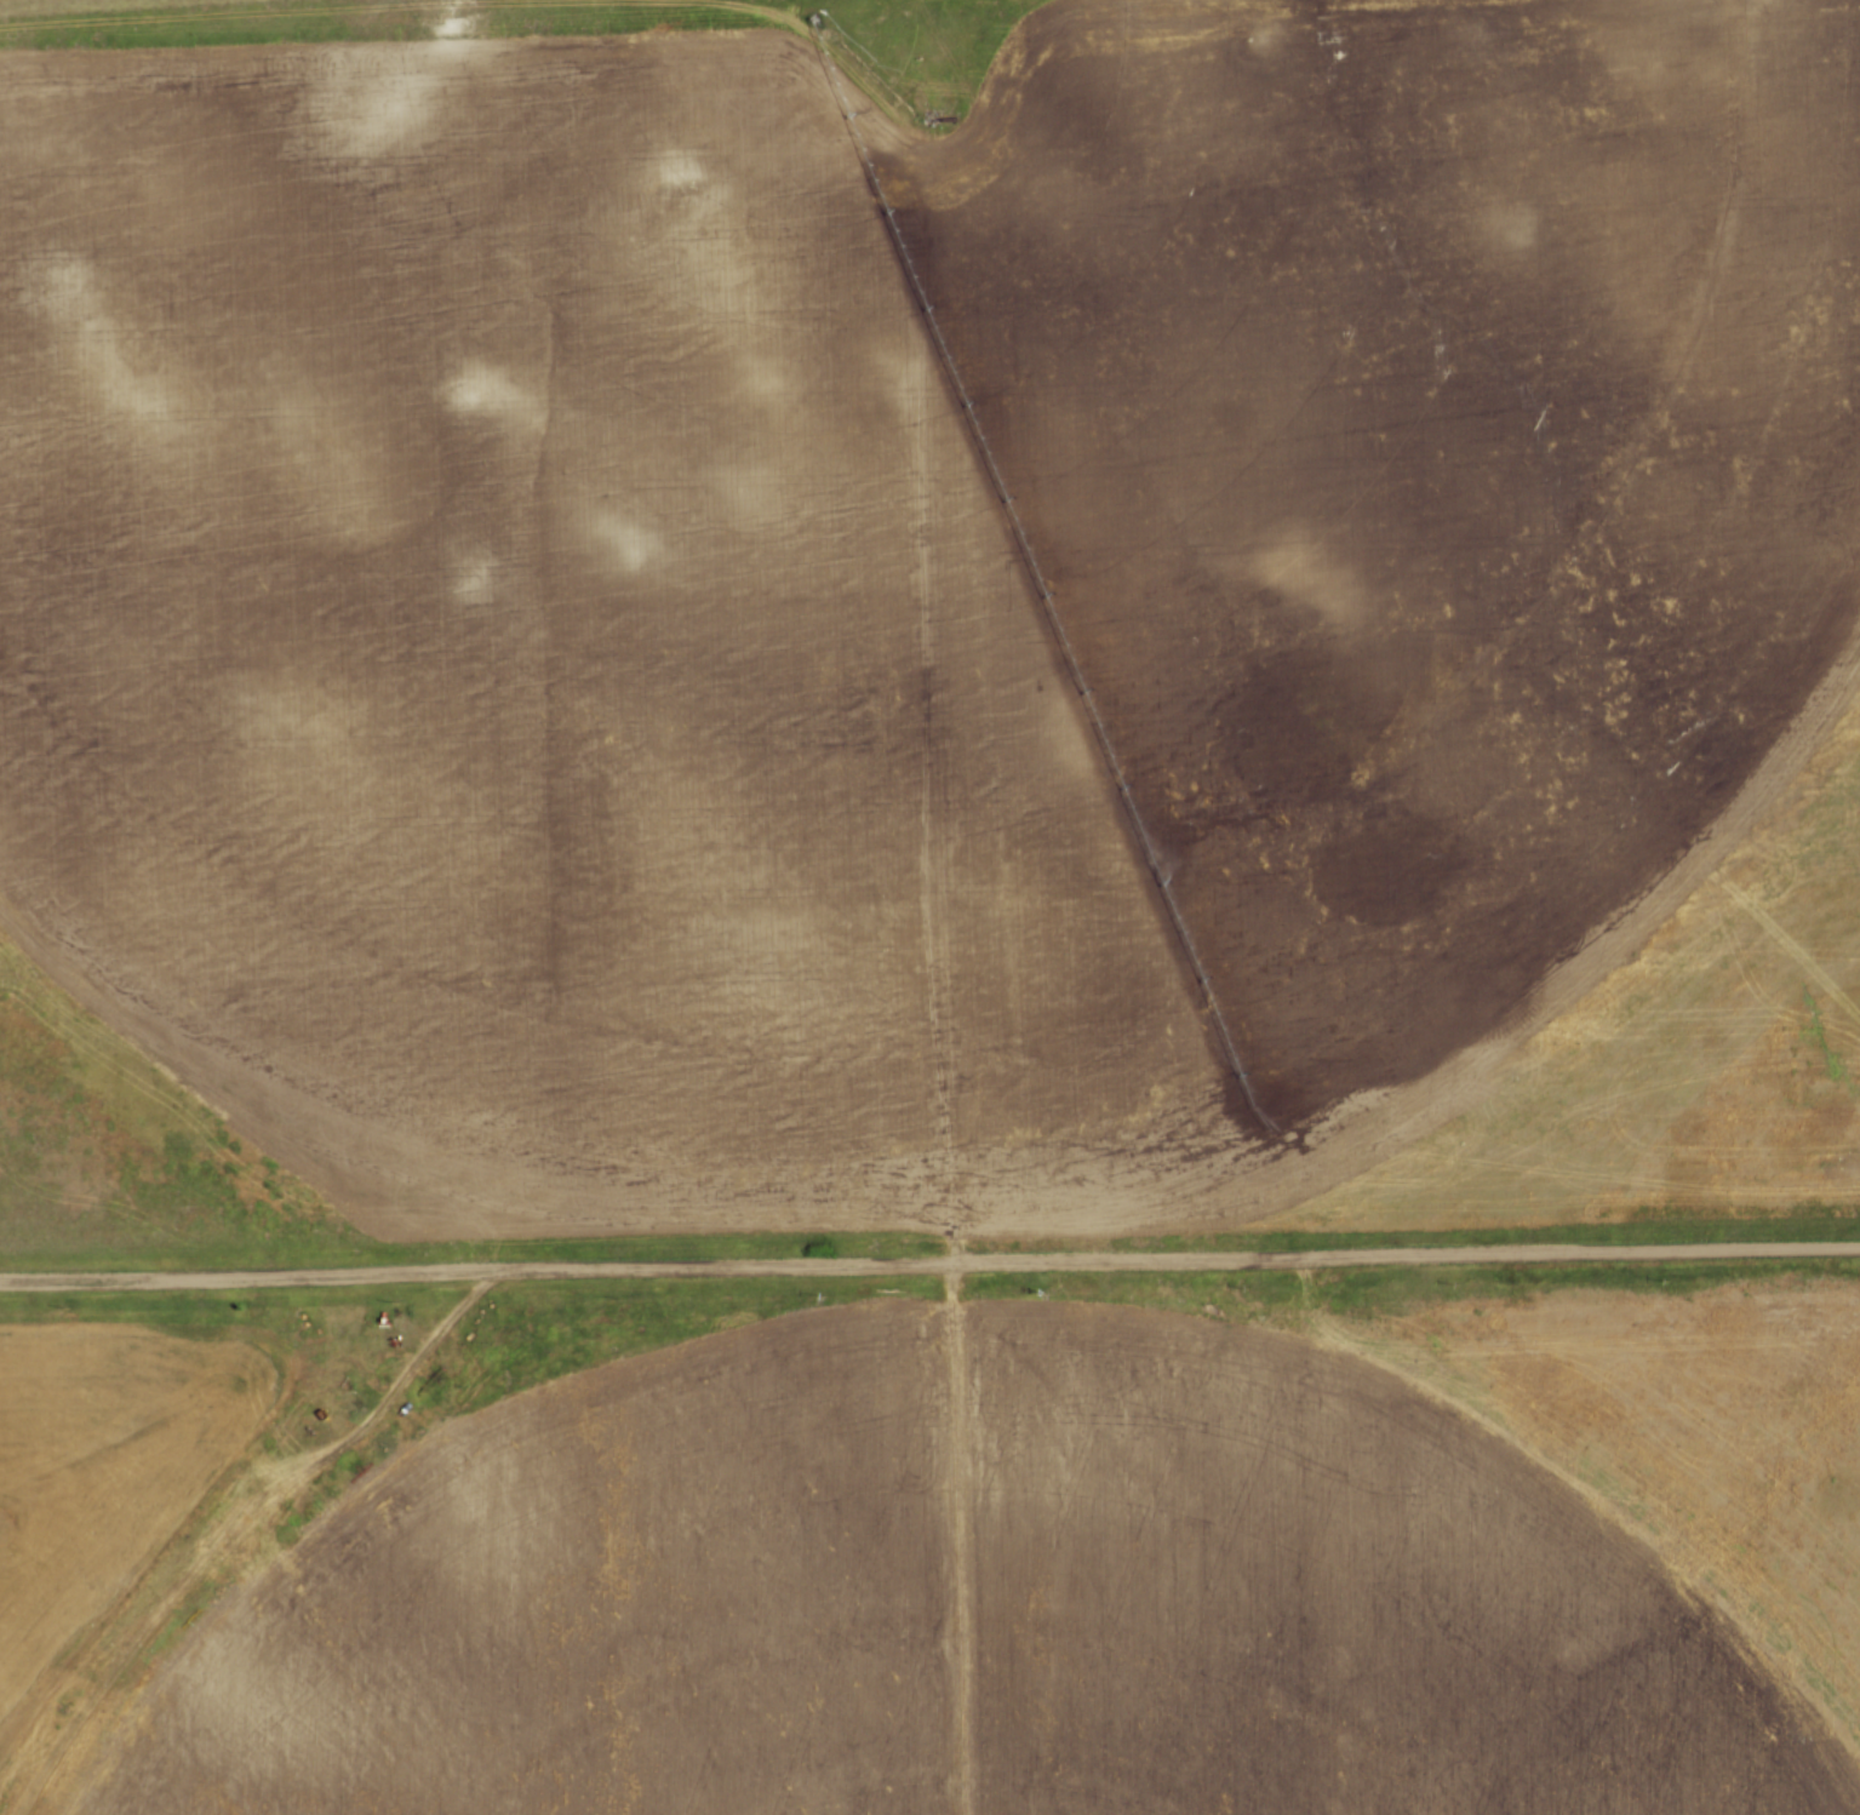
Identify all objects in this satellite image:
crop: (935, 623)
road: (929, 1261)
crop: (118, 1468)
crop: (1069, 1571)

